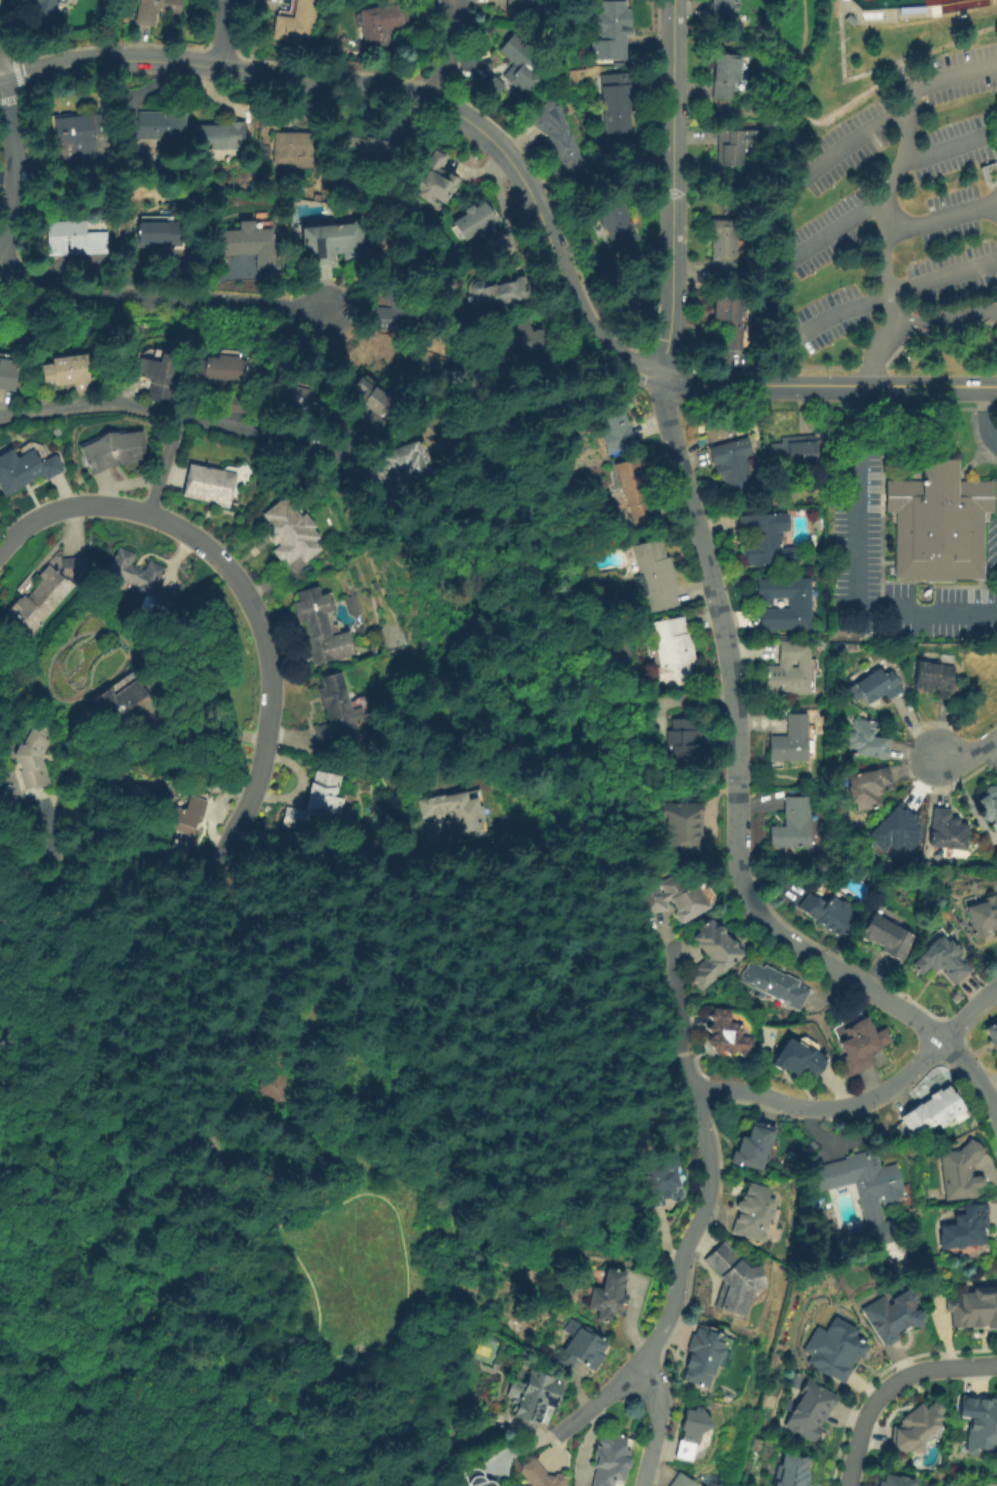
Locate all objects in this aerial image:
building: (523, 2)
park: (901, 3)
building: (47, 7)
building: (722, 7)
building: (156, 10)
building: (914, 11)
building: (298, 22)
building: (382, 24)
building: (614, 30)
road: (219, 33)
road: (445, 51)
building: (521, 65)
building: (728, 75)
road: (952, 77)
building: (492, 87)
building: (617, 101)
building: (269, 121)
road: (985, 122)
building: (155, 128)
building: (223, 137)
building: (77, 138)
building: (557, 140)
road: (856, 141)
road: (491, 142)
building: (735, 147)
road: (945, 147)
building: (295, 149)
building: (370, 152)
road: (18, 167)
road: (983, 175)
building: (435, 177)
road: (995, 180)
road: (670, 189)
parking lot: (897, 201)
road: (886, 205)
building: (337, 213)
road: (890, 213)
building: (471, 220)
building: (618, 226)
building: (159, 231)
building: (79, 237)
building: (340, 239)
building: (248, 242)
building: (725, 249)
road: (995, 261)
building: (244, 270)
building: (610, 275)
road: (894, 290)
building: (495, 293)
road: (174, 297)
building: (400, 311)
road: (911, 320)
building: (729, 321)
road: (931, 328)
building: (521, 341)
road: (875, 367)
building: (8, 374)
building: (69, 374)
building: (158, 378)
building: (220, 381)
road: (932, 384)
building: (371, 397)
building: (289, 399)
road: (986, 412)
road: (192, 423)
building: (372, 424)
building: (615, 427)
building: (113, 451)
building: (793, 452)
building: (732, 462)
road: (162, 465)
building: (25, 470)
building: (406, 474)
building: (209, 485)
building: (634, 489)
building: (938, 520)
building: (290, 533)
building: (763, 541)
road: (857, 566)
building: (657, 574)
building: (139, 580)
road: (243, 589)
building: (46, 594)
building: (799, 601)
road: (722, 624)
building: (319, 627)
building: (842, 632)
building: (675, 651)
building: (789, 669)
building: (936, 679)
building: (878, 685)
building: (119, 699)
building: (335, 715)
building: (790, 740)
building: (866, 740)
building: (680, 743)
road: (968, 755)
building: (34, 756)
building: (869, 787)
building: (315, 804)
building: (989, 805)
building: (457, 814)
building: (186, 823)
building: (792, 825)
building: (947, 830)
building: (686, 831)
building: (895, 831)
building: (675, 898)
building: (828, 913)
building: (983, 917)
building: (888, 937)
building: (713, 953)
building: (942, 959)
building: (774, 985)
road: (874, 989)
road: (675, 997)
road: (124, 1001)
road: (967, 1011)
building: (726, 1034)
building: (992, 1035)
building: (860, 1045)
building: (798, 1059)
building: (275, 1088)
road: (830, 1104)
building: (932, 1110)
building: (754, 1147)
park: (294, 1149)
building: (960, 1172)
building: (660, 1182)
road: (107, 1190)
building: (865, 1190)
road: (246, 1200)
building: (752, 1212)
road: (699, 1215)
building: (965, 1228)
road: (398, 1251)
building: (732, 1279)
building: (608, 1295)
building: (975, 1312)
building: (893, 1318)
building: (578, 1347)
building: (835, 1348)
building: (702, 1356)
road: (886, 1383)
building: (537, 1396)
road: (595, 1403)
building: (811, 1412)
road: (654, 1425)
building: (980, 1425)
building: (915, 1430)
building: (691, 1431)
building: (612, 1463)
building: (792, 1472)
road: (41, 1474)
building: (540, 1475)
building: (478, 1478)
building: (681, 1480)
building: (894, 1483)
building: (521, 1485)

